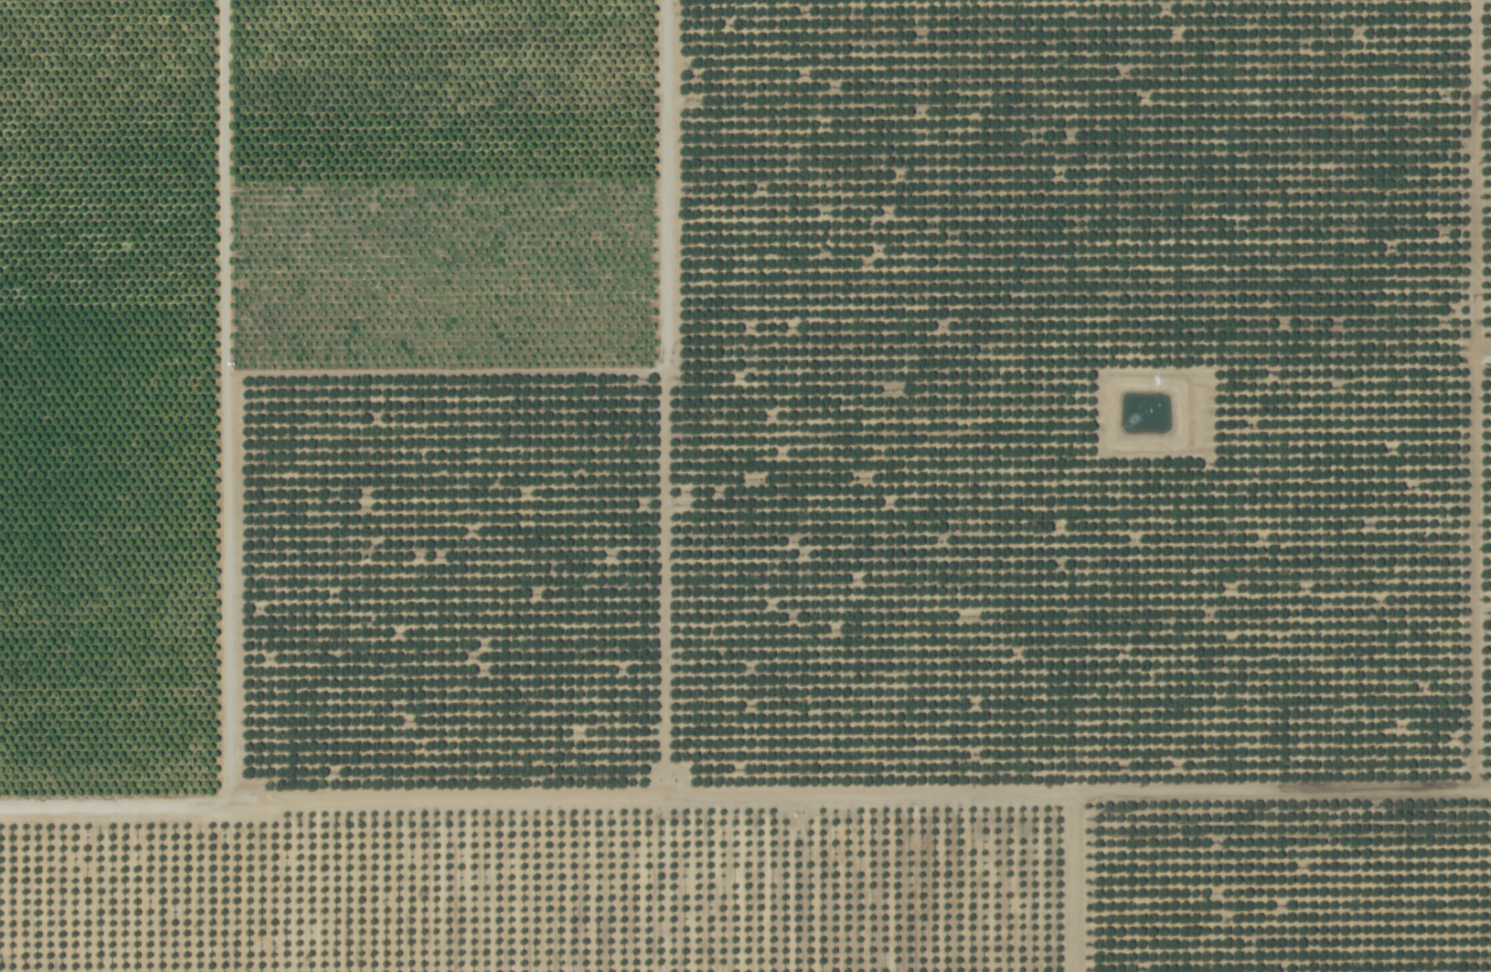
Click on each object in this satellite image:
road: (678, 374)
building: (470, 594)
road: (1208, 801)
road: (541, 806)

